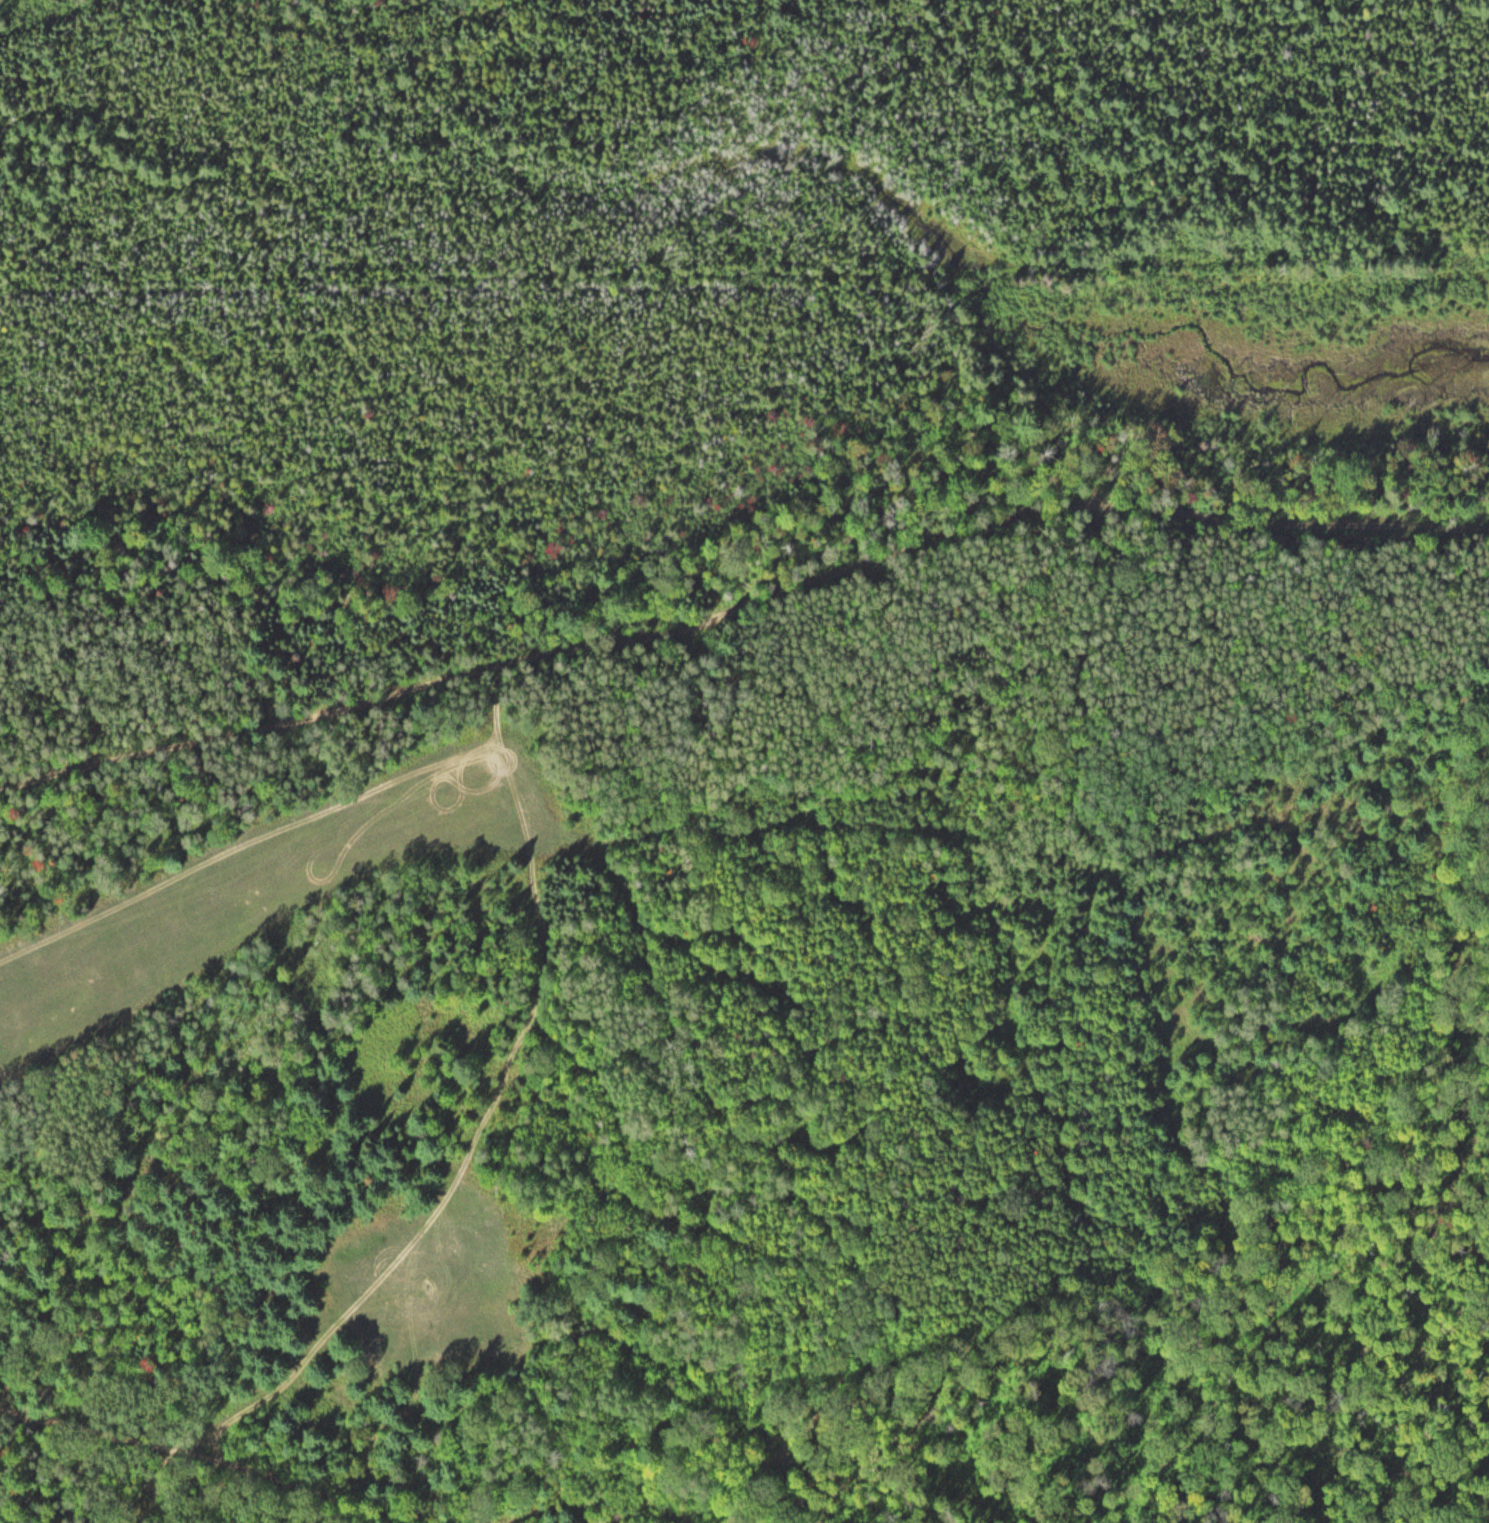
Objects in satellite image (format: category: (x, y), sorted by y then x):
road: (742, 600)
road: (498, 1116)
road: (194, 1460)

